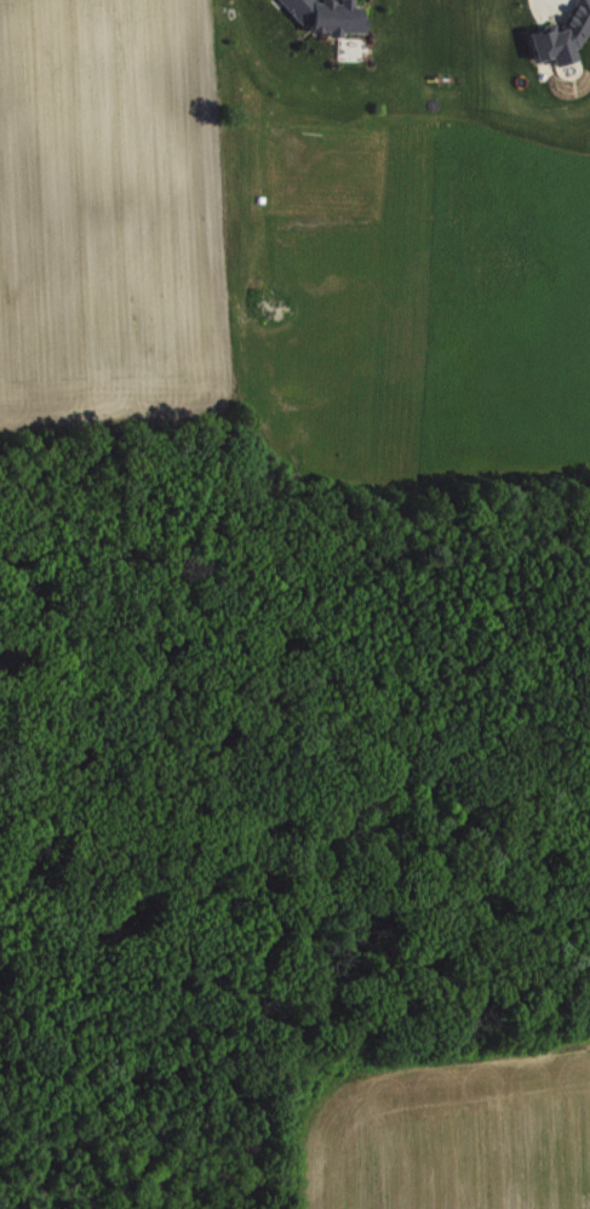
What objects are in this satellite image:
building: (331, 16)
building: (565, 36)

